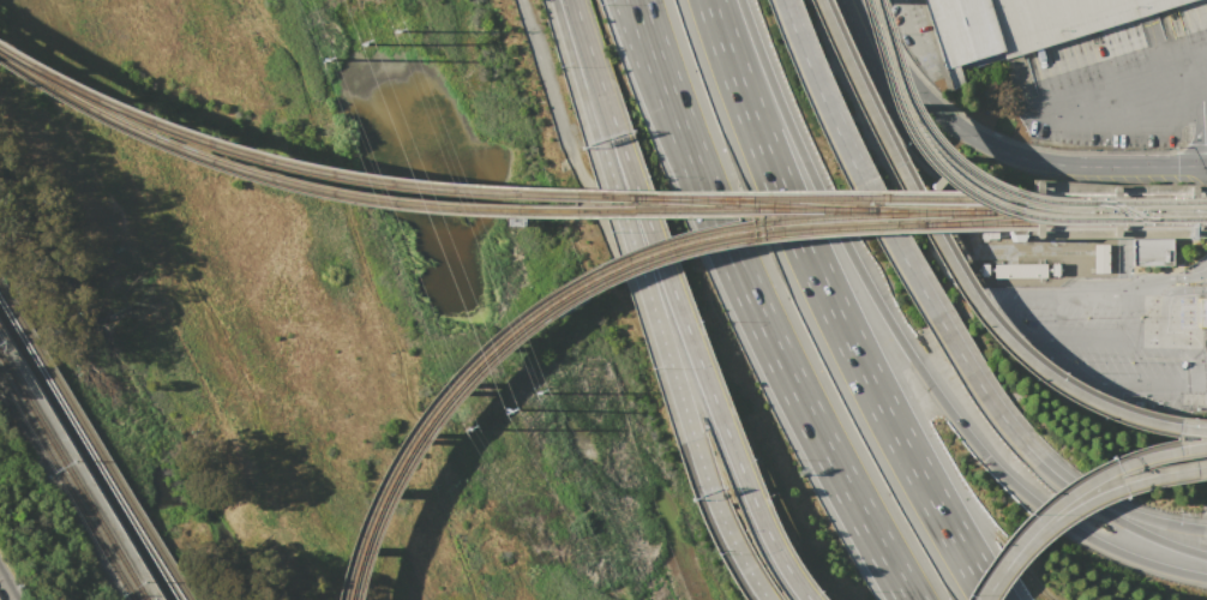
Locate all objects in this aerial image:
building: (1019, 23)
power tower: (394, 31)
road: (896, 38)
power tower: (361, 43)
road: (644, 55)
power tower: (323, 60)
road: (1128, 85)
road: (948, 121)
railway: (157, 140)
road: (1151, 166)
railway: (987, 182)
road: (974, 187)
railway: (590, 194)
railway: (975, 197)
railway: (747, 202)
airport: (1034, 206)
railway: (600, 209)
railway: (926, 210)
railway: (1122, 210)
traffic signals: (1189, 210)
railway: (1134, 211)
road: (642, 212)
railway: (1022, 212)
railway: (989, 218)
road: (623, 220)
railway: (1062, 222)
road: (891, 240)
building: (1151, 251)
building: (1099, 258)
building: (1017, 270)
road: (956, 275)
railway: (578, 276)
road: (1176, 276)
road: (376, 295)
road: (1165, 296)
railway: (559, 302)
road: (753, 307)
road: (831, 307)
road: (1009, 313)
road: (906, 350)
road: (1148, 385)
power tower: (535, 392)
power tower: (505, 409)
power tower: (466, 428)
railway: (94, 444)
railway: (85, 456)
railway: (73, 476)
railway: (66, 487)
road: (1071, 491)
road: (1079, 506)
road: (1117, 508)
road: (756, 515)
road: (1116, 520)
road: (720, 522)
road: (7, 586)

